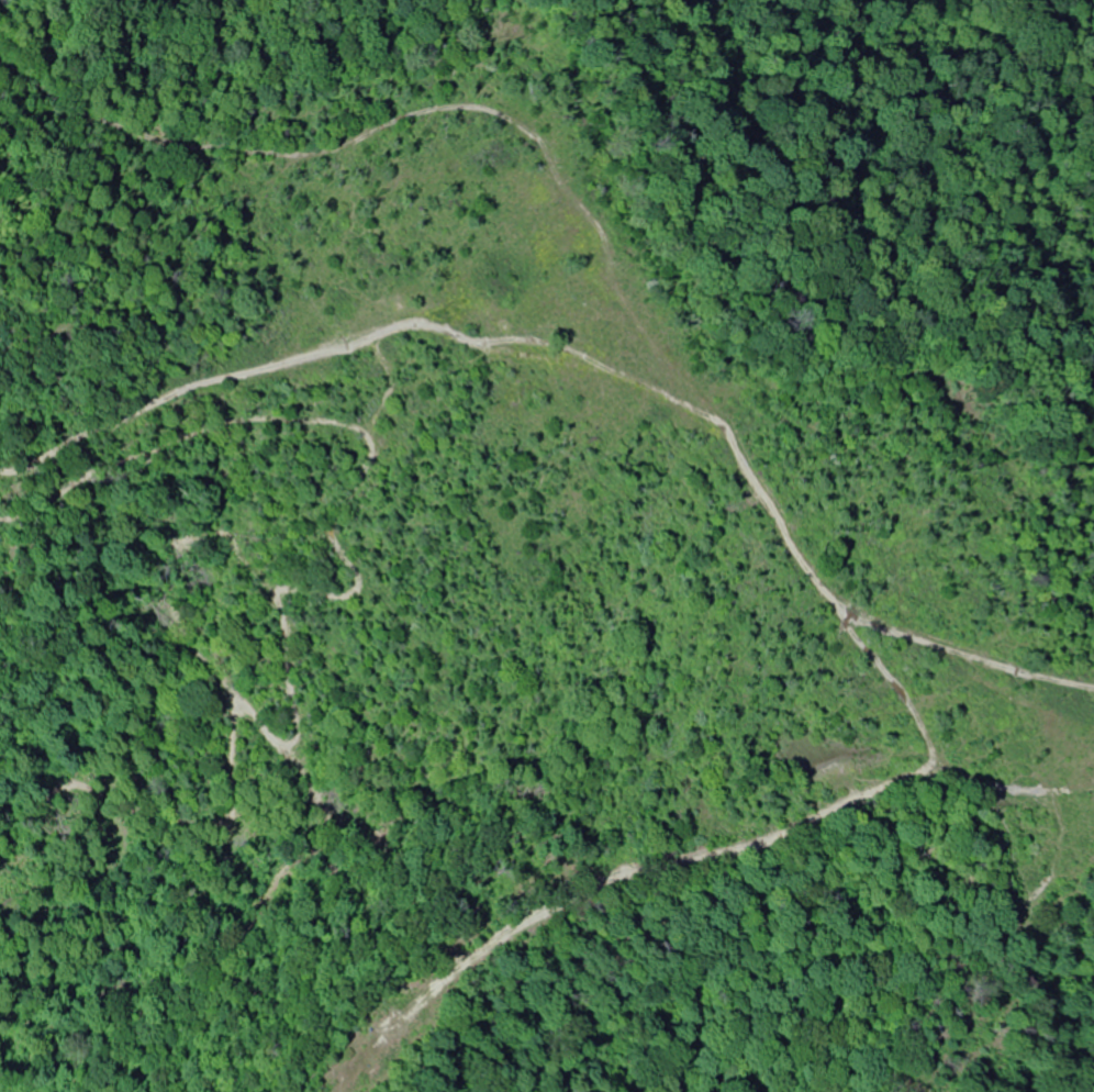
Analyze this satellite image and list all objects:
building: (760, 837)

